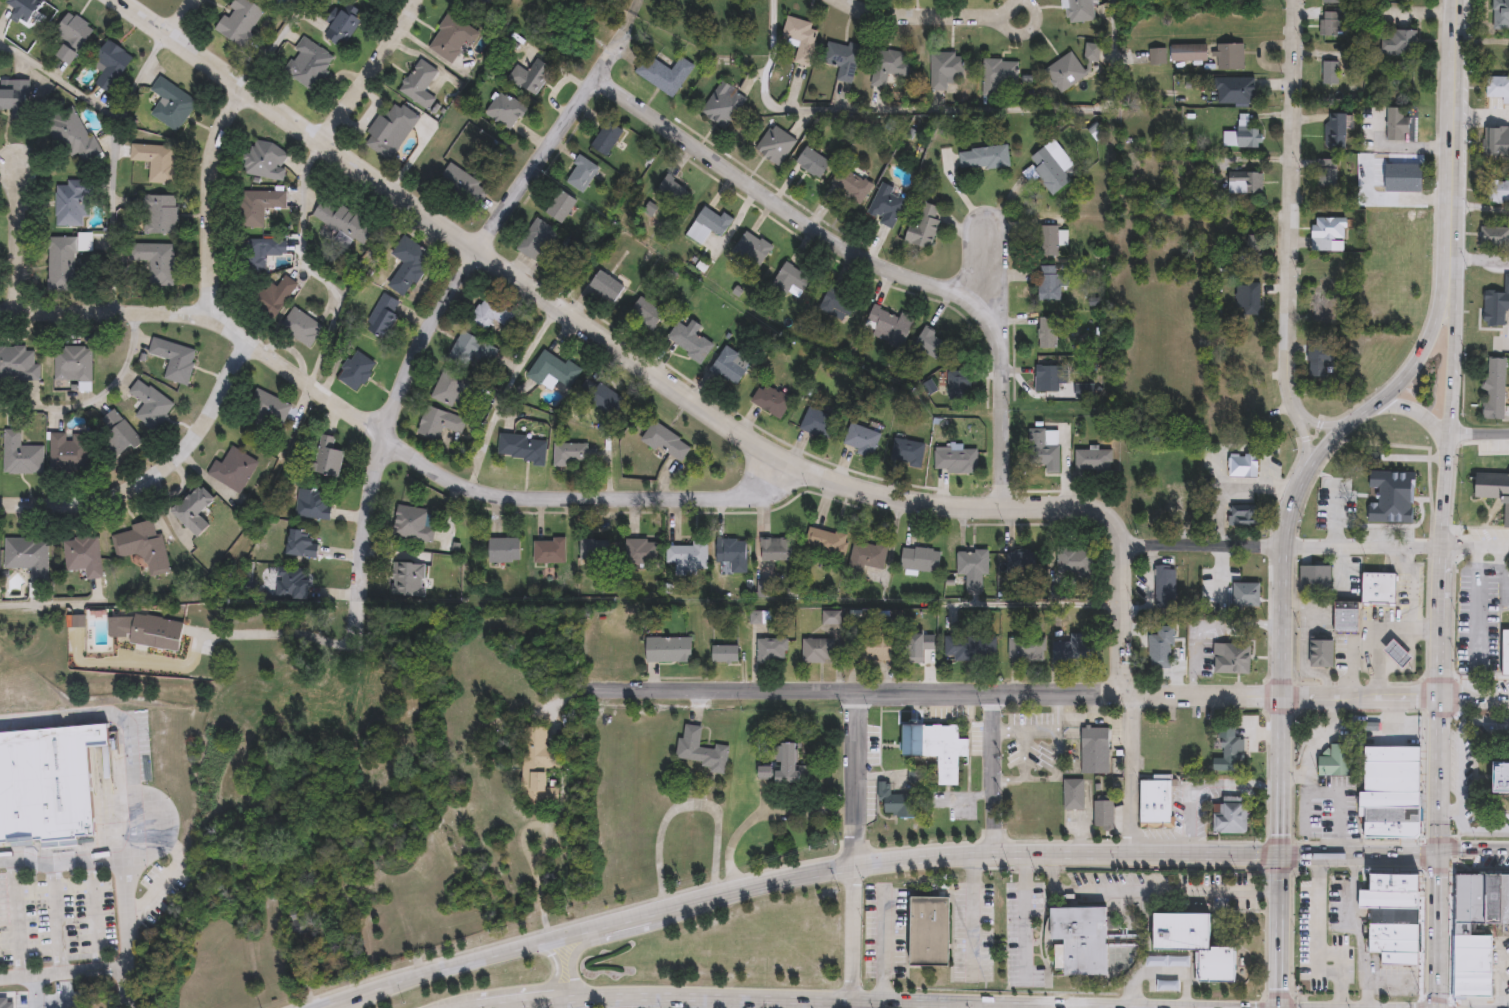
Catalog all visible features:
building: (367, 0)
building: (371, 1)
building: (1334, 1)
building: (27, 8)
building: (1078, 10)
building: (1502, 15)
road: (181, 17)
road: (943, 18)
building: (239, 20)
building: (1331, 24)
building: (342, 27)
building: (73, 36)
building: (451, 36)
building: (801, 37)
building: (1398, 42)
road: (273, 45)
building: (1091, 52)
building: (1189, 52)
building: (1157, 56)
building: (1229, 57)
building: (842, 59)
building: (308, 63)
building: (113, 65)
building: (889, 65)
building: (945, 69)
road: (369, 70)
building: (1064, 71)
building: (1330, 72)
building: (659, 74)
building: (530, 76)
building: (999, 77)
building: (418, 83)
building: (1498, 86)
building: (1234, 90)
building: (15, 94)
building: (171, 104)
building: (723, 105)
road: (101, 108)
building: (505, 110)
road: (880, 111)
road: (1480, 115)
road: (1450, 120)
building: (1397, 124)
road: (274, 127)
building: (390, 129)
building: (1335, 132)
building: (74, 133)
building: (1248, 133)
building: (605, 138)
building: (1495, 138)
building: (775, 145)
building: (984, 158)
building: (265, 160)
building: (158, 161)
building: (813, 162)
building: (1051, 165)
building: (580, 174)
building: (1404, 177)
building: (1326, 179)
building: (1245, 183)
building: (464, 185)
building: (851, 185)
building: (672, 191)
building: (1499, 193)
road: (209, 196)
building: (72, 202)
building: (886, 204)
road: (1290, 205)
building: (258, 206)
building: (560, 206)
building: (160, 214)
road: (116, 215)
building: (345, 221)
building: (708, 225)
building: (924, 226)
building: (1328, 228)
building: (1496, 237)
road: (18, 238)
building: (535, 239)
building: (1051, 240)
building: (1250, 249)
building: (750, 251)
building: (256, 253)
building: (157, 260)
road: (865, 260)
road: (1481, 260)
building: (64, 263)
building: (408, 265)
road: (985, 268)
road: (309, 270)
building: (790, 281)
building: (1051, 282)
building: (606, 285)
building: (1247, 296)
building: (271, 297)
building: (839, 300)
building: (1319, 305)
building: (1497, 308)
road: (437, 313)
building: (490, 313)
building: (645, 314)
building: (383, 316)
building: (888, 326)
building: (300, 327)
building: (1047, 332)
road: (599, 335)
building: (689, 341)
building: (930, 342)
building: (472, 352)
building: (175, 358)
building: (1320, 359)
building: (19, 363)
building: (74, 363)
building: (730, 365)
building: (356, 370)
building: (552, 370)
building: (1048, 377)
building: (958, 383)
building: (448, 386)
building: (1497, 389)
road: (501, 390)
building: (597, 397)
road: (97, 398)
building: (770, 400)
building: (151, 403)
building: (265, 410)
road: (1416, 410)
building: (439, 422)
building: (817, 423)
road: (1317, 424)
road: (1479, 432)
building: (117, 433)
road: (386, 436)
building: (862, 439)
road: (1306, 439)
building: (666, 442)
building: (522, 448)
building: (1044, 448)
building: (70, 450)
building: (906, 451)
building: (574, 453)
building: (22, 454)
building: (325, 456)
building: (955, 460)
building: (1093, 460)
building: (1243, 464)
building: (233, 469)
road: (1445, 469)
road: (155, 475)
road: (1229, 486)
building: (1493, 486)
building: (1389, 496)
building: (1190, 499)
building: (312, 503)
building: (193, 508)
building: (1244, 515)
building: (1153, 519)
road: (1286, 520)
building: (411, 524)
building: (826, 541)
building: (300, 543)
building: (145, 545)
road: (1474, 545)
road: (1280, 546)
building: (598, 548)
building: (776, 549)
building: (503, 550)
building: (549, 550)
building: (641, 551)
building: (732, 553)
building: (84, 554)
building: (687, 555)
building: (29, 556)
building: (866, 556)
building: (919, 559)
building: (1021, 562)
building: (1077, 563)
building: (972, 567)
building: (407, 578)
building: (1315, 578)
building: (291, 583)
road: (1410, 583)
building: (1164, 586)
building: (1379, 588)
building: (1244, 594)
road: (1476, 602)
road: (1002, 603)
road: (50, 604)
building: (1346, 616)
road: (1119, 619)
road: (1369, 627)
building: (147, 629)
road: (285, 634)
building: (875, 645)
building: (1076, 645)
building: (974, 647)
building: (1026, 647)
building: (1162, 647)
building: (915, 648)
building: (668, 649)
building: (772, 650)
building: (817, 650)
road: (1387, 650)
building: (1506, 651)
building: (1397, 652)
gas station: (1397, 652)
building: (725, 653)
building: (1322, 653)
building: (1232, 658)
road: (1398, 658)
road: (1010, 694)
road: (1474, 698)
road: (1332, 715)
road: (133, 720)
road: (1023, 729)
road: (1341, 733)
road: (1057, 735)
building: (936, 747)
building: (700, 748)
building: (1235, 748)
building: (1095, 750)
building: (1334, 758)
building: (787, 762)
building: (535, 767)
road: (1024, 770)
building: (765, 771)
road: (991, 772)
road: (1130, 773)
road: (1437, 775)
road: (1460, 776)
building: (1499, 776)
road: (1041, 777)
road: (855, 779)
building: (47, 784)
road: (1203, 785)
building: (1389, 790)
building: (1074, 793)
building: (1154, 797)
building: (897, 802)
road: (684, 804)
road: (1304, 804)
road: (1337, 810)
road: (1448, 811)
road: (763, 814)
building: (1103, 814)
building: (1229, 814)
road: (1472, 851)
road: (1095, 852)
road: (526, 853)
traffic signals: (1437, 853)
road: (117, 855)
road: (1263, 855)
traffic signals: (1279, 856)
road: (1358, 857)
road: (898, 858)
road: (773, 879)
road: (1148, 893)
road: (670, 905)
road: (92, 912)
road: (54, 914)
road: (638, 914)
building: (1390, 914)
road: (972, 915)
road: (1026, 916)
road: (18, 918)
road: (1437, 930)
building: (1463, 930)
road: (853, 932)
building: (931, 932)
road: (1279, 932)
building: (1189, 940)
building: (1081, 941)
parking lot: (1339, 941)
road: (881, 944)
road: (579, 947)
road: (471, 959)
building: (1166, 960)
road: (84, 967)
road: (1156, 972)
road: (1499, 972)
road: (546, 984)
building: (1169, 986)
road: (35, 991)
road: (661, 994)
road: (532, 999)
road: (714, 1001)
building: (4, 1002)
road: (970, 1002)
road: (853, 1004)
road: (991, 1005)
road: (486, 1006)
traffic signals: (1279, 1007)
road: (1301, 1007)

